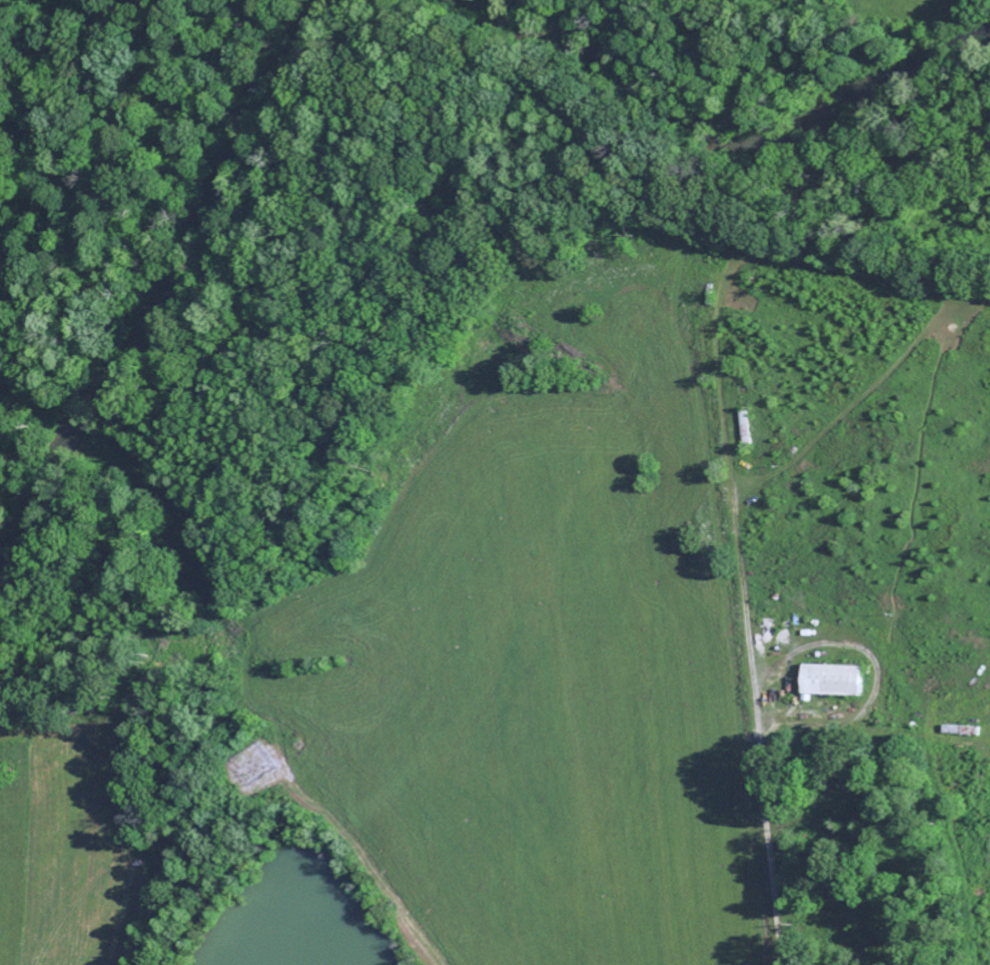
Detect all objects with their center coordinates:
building: (838, 679)

